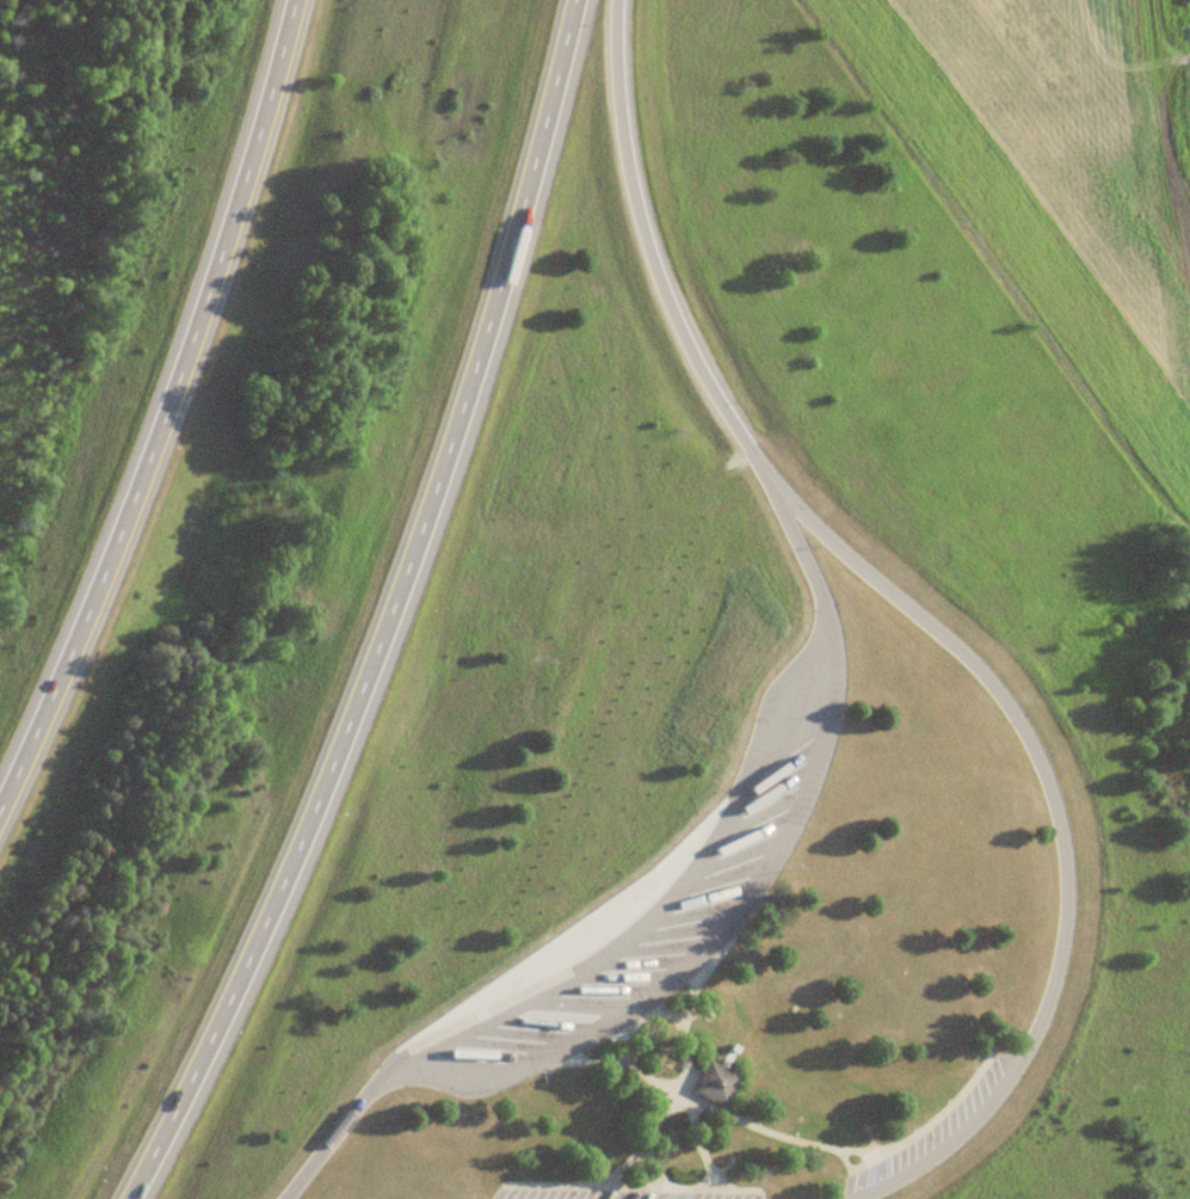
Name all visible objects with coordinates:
road: (648, 252)
road: (166, 410)
road: (388, 614)
road: (1059, 829)
road: (658, 903)
parking lot: (656, 904)
road: (701, 946)
road: (645, 1019)
road: (680, 1086)
building: (714, 1086)
road: (639, 1114)
road: (722, 1115)
road: (925, 1125)
parking lot: (938, 1133)
road: (639, 1145)
road: (629, 1188)
parking lot: (605, 1195)

